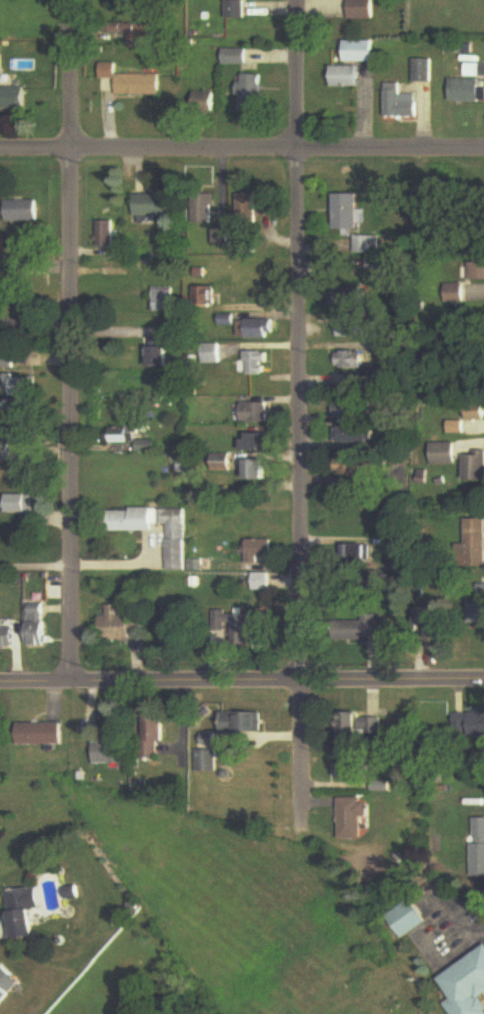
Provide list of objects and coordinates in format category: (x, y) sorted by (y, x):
building: (236, 9)
building: (363, 9)
building: (127, 29)
building: (361, 52)
building: (236, 57)
building: (2, 65)
building: (423, 71)
building: (347, 77)
building: (135, 82)
building: (254, 91)
building: (467, 91)
building: (14, 99)
building: (401, 103)
road: (242, 153)
building: (155, 206)
building: (206, 209)
building: (250, 210)
building: (25, 211)
building: (348, 212)
building: (107, 234)
building: (223, 237)
building: (368, 245)
building: (478, 271)
building: (456, 294)
building: (207, 296)
building: (353, 298)
building: (165, 300)
building: (228, 320)
building: (258, 329)
building: (357, 330)
road: (75, 342)
building: (214, 353)
building: (160, 354)
building: (353, 360)
building: (8, 361)
building: (260, 364)
building: (359, 383)
building: (23, 387)
building: (354, 410)
building: (475, 411)
building: (257, 413)
road: (302, 418)
building: (458, 427)
building: (126, 435)
building: (358, 436)
building: (260, 442)
building: (149, 446)
building: (446, 454)
building: (474, 466)
building: (351, 467)
building: (258, 470)
building: (21, 504)
building: (133, 520)
building: (174, 538)
building: (476, 544)
building: (259, 551)
building: (357, 556)
building: (261, 583)
building: (478, 615)
building: (38, 625)
building: (123, 626)
building: (435, 626)
building: (221, 629)
building: (360, 630)
building: (243, 631)
building: (263, 632)
building: (8, 637)
road: (241, 684)
building: (242, 723)
building: (469, 724)
building: (363, 727)
building: (43, 734)
building: (154, 734)
building: (111, 753)
building: (208, 753)
building: (349, 770)
building: (351, 818)
building: (478, 848)
building: (1, 856)
building: (74, 893)
building: (27, 912)
building: (406, 919)
road: (445, 957)
building: (8, 986)
building: (467, 987)

